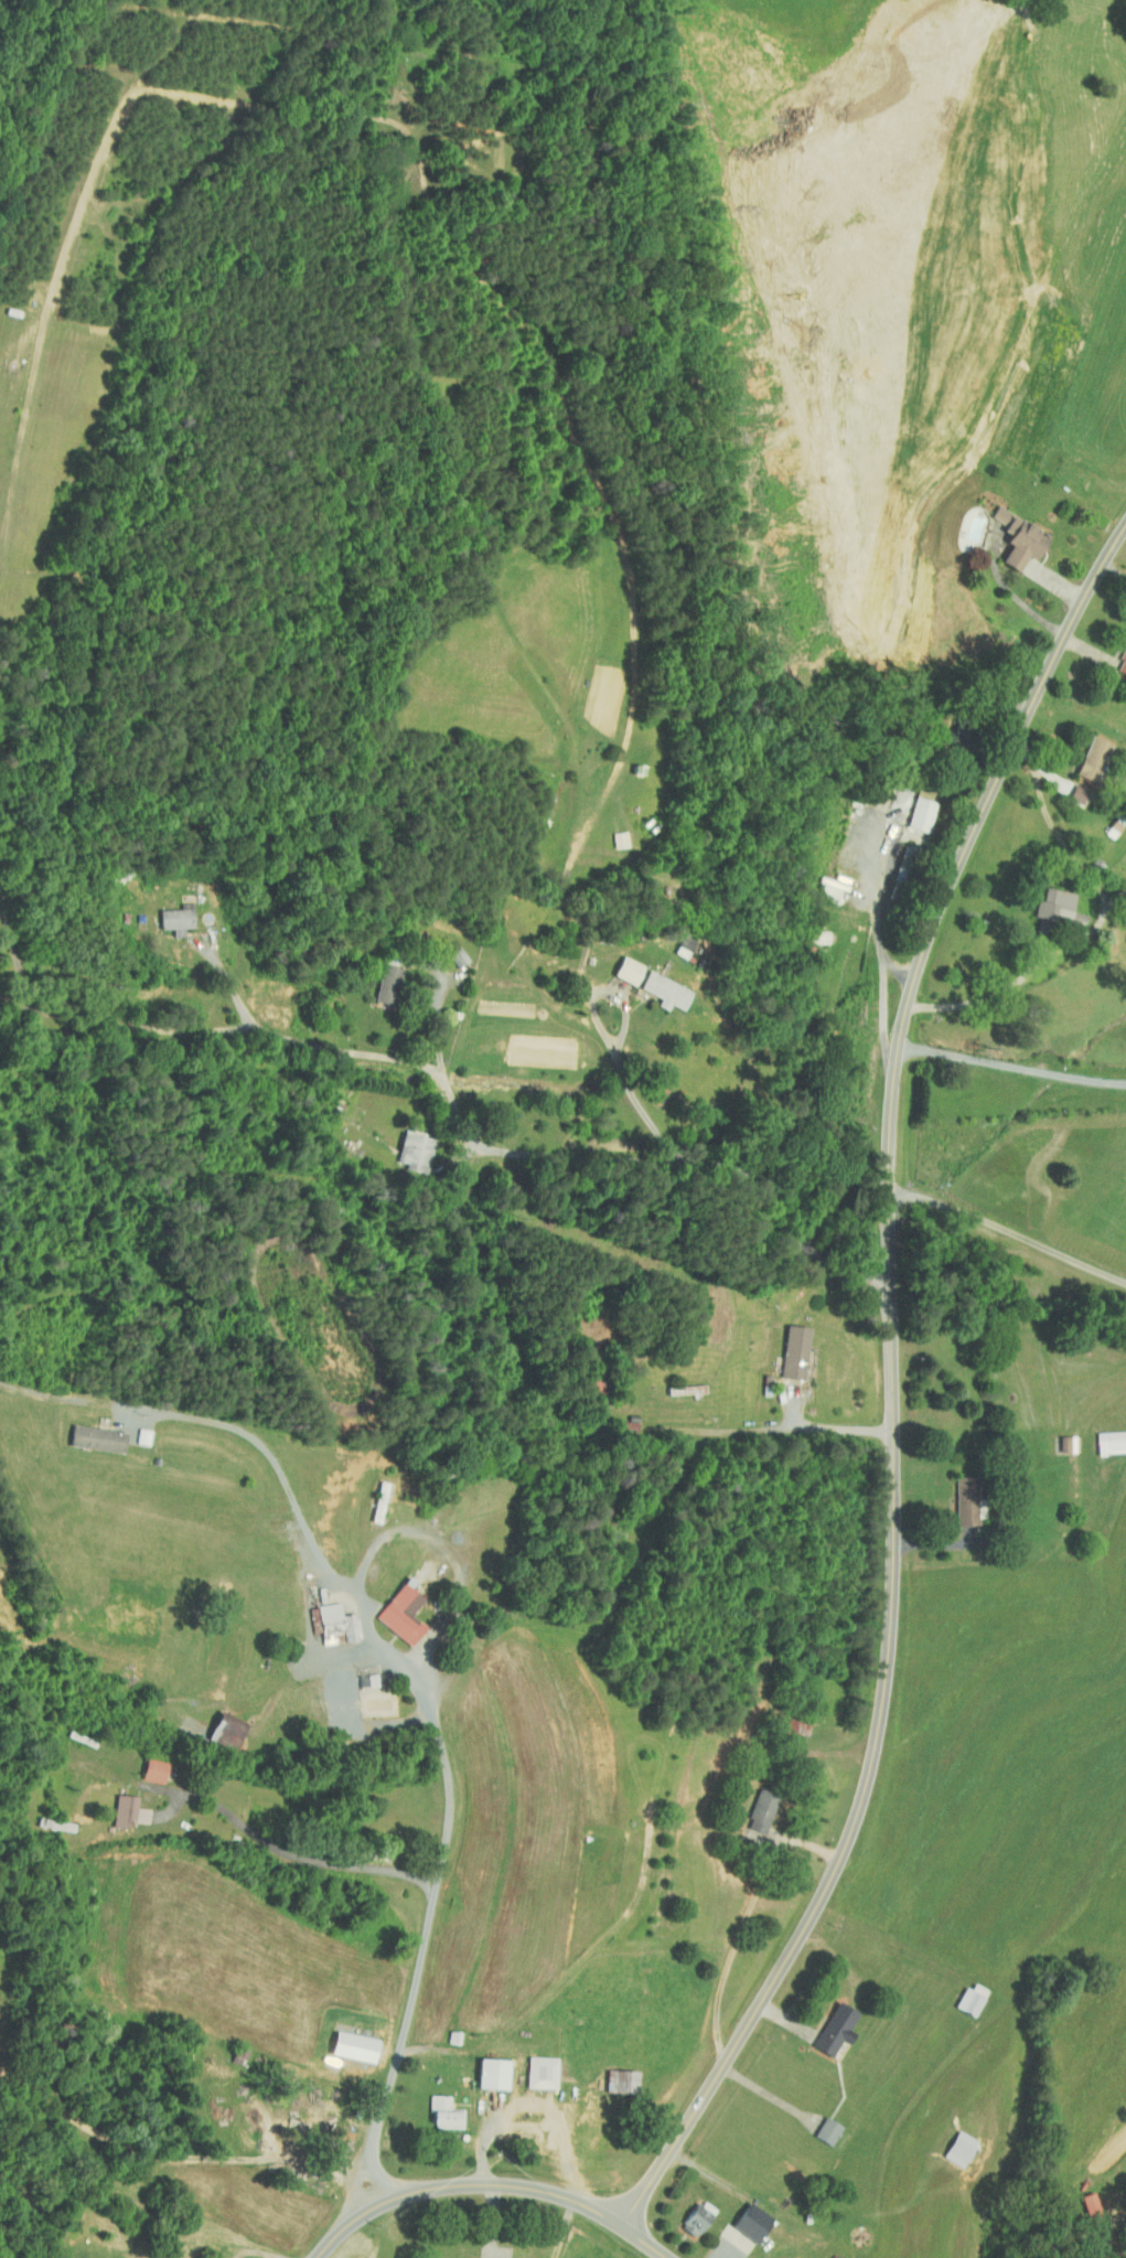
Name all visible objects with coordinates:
road: (396, 97)
building: (962, 523)
building: (1009, 534)
road: (1113, 572)
road: (1014, 595)
building: (1118, 653)
building: (1082, 755)
building: (1069, 789)
building: (911, 809)
building: (610, 834)
building: (819, 886)
road: (1116, 898)
building: (1048, 901)
building: (167, 912)
road: (1096, 924)
road: (881, 944)
building: (448, 950)
building: (618, 963)
road: (898, 970)
building: (376, 977)
road: (228, 983)
building: (655, 984)
road: (437, 1012)
road: (607, 1035)
road: (1012, 1067)
road: (438, 1078)
building: (405, 1145)
road: (1008, 1233)
building: (784, 1345)
road: (892, 1385)
road: (219, 1424)
road: (739, 1431)
building: (86, 1432)
building: (1103, 1436)
building: (1057, 1437)
building: (956, 1495)
building: (400, 1597)
building: (389, 1610)
building: (325, 1618)
road: (342, 1659)
building: (216, 1724)
building: (143, 1764)
building: (751, 1805)
building: (118, 1806)
road: (447, 1820)
road: (300, 1856)
building: (959, 1995)
building: (824, 2022)
building: (343, 2041)
building: (530, 2066)
building: (482, 2067)
building: (611, 2075)
building: (435, 2107)
building: (817, 2125)
building: (950, 2143)
road: (491, 2184)
building: (1081, 2202)
building: (687, 2212)
building: (741, 2216)
building: (782, 2256)

